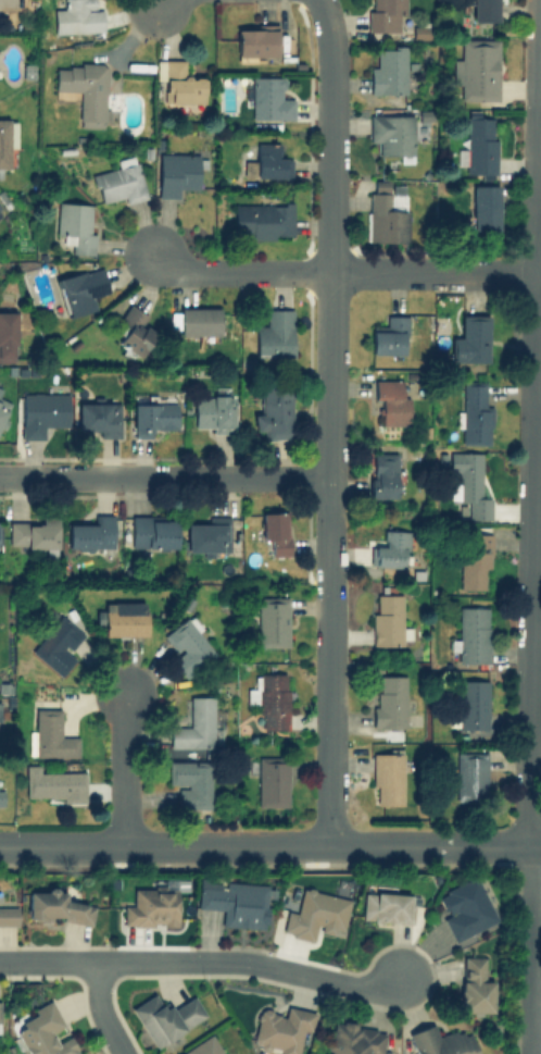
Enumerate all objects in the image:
road: (540, 0)
road: (164, 4)
building: (483, 10)
building: (386, 15)
building: (77, 16)
building: (255, 41)
building: (388, 69)
building: (476, 69)
building: (181, 83)
building: (84, 88)
building: (268, 98)
building: (391, 133)
building: (7, 142)
building: (479, 145)
building: (270, 160)
building: (176, 172)
building: (119, 181)
building: (482, 207)
building: (385, 212)
building: (262, 221)
building: (75, 225)
road: (237, 272)
road: (433, 272)
road: (538, 272)
building: (78, 290)
road: (331, 294)
building: (198, 320)
building: (133, 328)
building: (273, 333)
building: (7, 335)
building: (388, 335)
building: (469, 339)
building: (0, 389)
building: (390, 401)
building: (2, 409)
building: (41, 412)
building: (213, 412)
building: (474, 412)
building: (274, 413)
building: (97, 417)
building: (152, 417)
road: (533, 421)
road: (165, 474)
building: (381, 474)
building: (469, 482)
building: (152, 531)
building: (32, 532)
building: (90, 533)
building: (274, 533)
building: (206, 534)
building: (390, 549)
building: (474, 560)
building: (122, 618)
building: (388, 619)
building: (272, 621)
building: (471, 633)
road: (536, 636)
building: (56, 643)
building: (188, 645)
building: (269, 699)
building: (389, 700)
building: (471, 704)
road: (329, 717)
building: (196, 726)
building: (49, 734)
building: (211, 758)
road: (128, 771)
building: (469, 773)
building: (387, 777)
building: (189, 780)
building: (272, 781)
building: (52, 783)
building: (1, 791)
road: (266, 844)
road: (537, 844)
building: (235, 901)
building: (54, 906)
building: (151, 906)
building: (386, 906)
building: (464, 908)
building: (7, 913)
building: (316, 915)
road: (532, 948)
road: (204, 960)
building: (474, 985)
road: (102, 1010)
building: (164, 1017)
building: (280, 1029)
building: (42, 1031)
building: (354, 1039)
building: (440, 1041)
building: (203, 1045)

